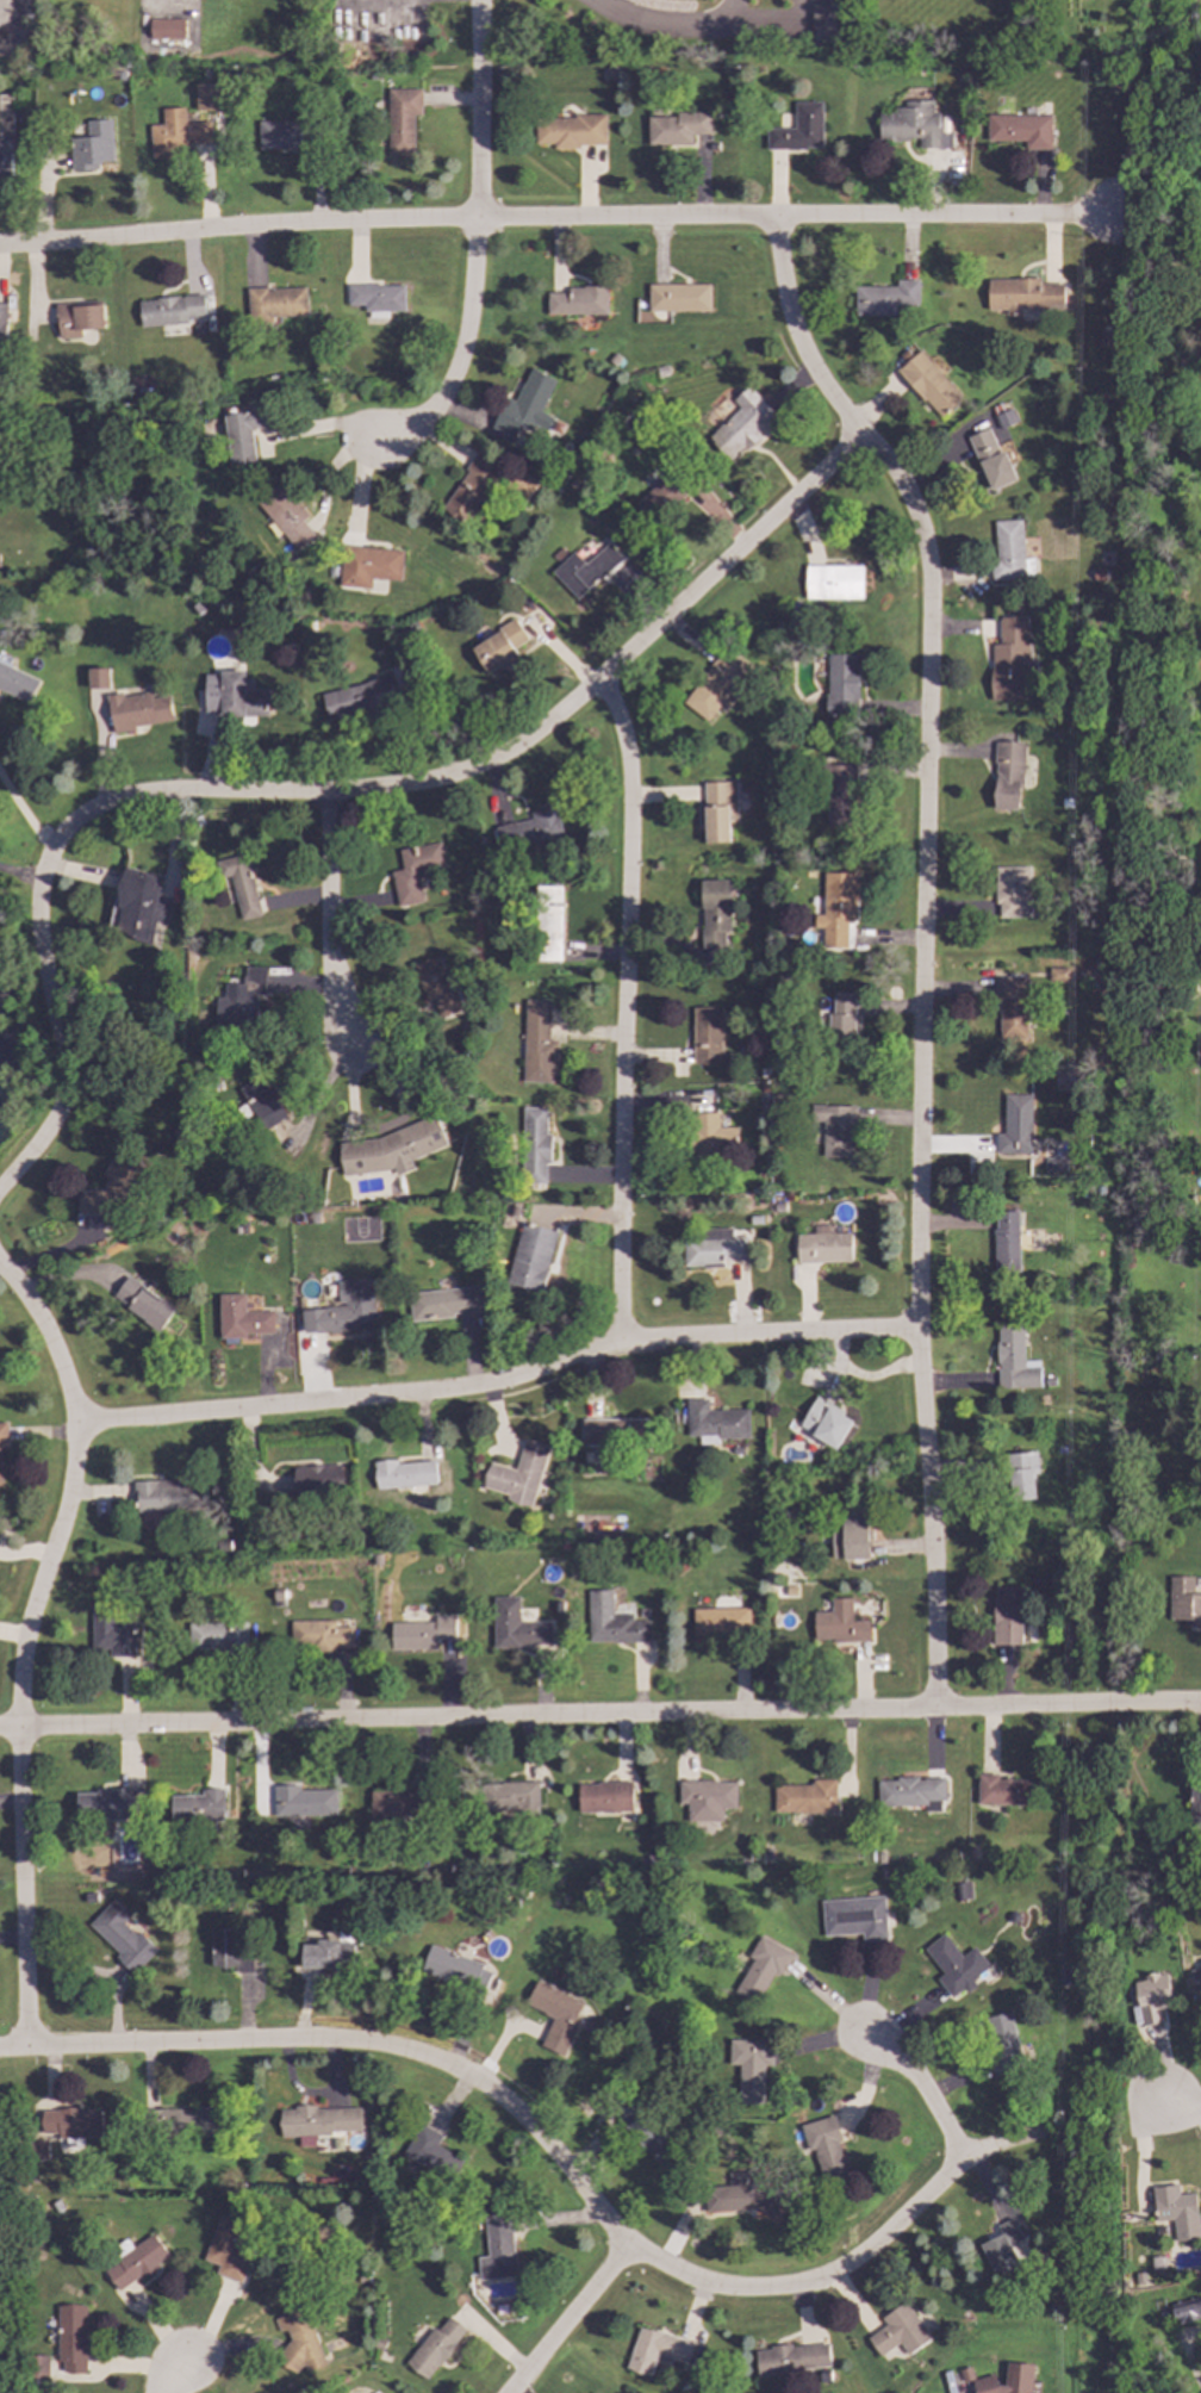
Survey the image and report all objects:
building: (6, 12)
building: (823, 25)
road: (670, 27)
road: (774, 27)
building: (166, 29)
building: (207, 97)
road: (478, 110)
building: (402, 119)
building: (913, 125)
building: (676, 129)
building: (798, 130)
building: (1020, 130)
building: (571, 131)
building: (176, 135)
building: (284, 135)
building: (5, 136)
building: (92, 147)
road: (560, 219)
building: (1022, 296)
building: (678, 298)
building: (884, 298)
building: (377, 299)
building: (578, 302)
building: (275, 303)
building: (169, 311)
building: (77, 319)
building: (2, 325)
road: (459, 354)
building: (928, 385)
building: (528, 409)
building: (1006, 418)
building: (742, 424)
building: (243, 433)
building: (990, 458)
building: (471, 489)
building: (659, 497)
building: (286, 516)
building: (1009, 552)
building: (368, 566)
building: (584, 571)
building: (833, 583)
building: (498, 647)
building: (1009, 660)
building: (97, 678)
building: (15, 683)
building: (715, 685)
building: (841, 685)
building: (234, 696)
building: (359, 698)
building: (137, 710)
building: (1007, 776)
road: (329, 793)
building: (838, 795)
building: (717, 810)
road: (21, 815)
building: (530, 829)
building: (413, 871)
road: (19, 878)
building: (239, 884)
building: (1013, 891)
building: (138, 906)
building: (835, 908)
building: (714, 913)
road: (326, 919)
building: (547, 924)
road: (920, 943)
building: (1058, 975)
building: (436, 984)
building: (239, 1000)
road: (623, 1008)
building: (1012, 1008)
building: (705, 1036)
building: (536, 1043)
building: (262, 1102)
building: (1015, 1126)
building: (834, 1130)
building: (709, 1136)
building: (533, 1146)
building: (391, 1149)
building: (977, 1163)
building: (1053, 1166)
building: (112, 1191)
building: (1006, 1243)
building: (712, 1248)
building: (822, 1248)
building: (530, 1257)
building: (446, 1303)
building: (142, 1304)
building: (343, 1310)
building: (241, 1318)
building: (1013, 1360)
road: (498, 1382)
building: (714, 1423)
building: (824, 1423)
building: (615, 1432)
building: (2, 1434)
building: (516, 1474)
building: (404, 1475)
building: (1020, 1475)
building: (317, 1480)
building: (0, 1481)
building: (169, 1496)
building: (850, 1535)
building: (1183, 1600)
building: (1006, 1616)
building: (611, 1622)
building: (720, 1622)
building: (838, 1624)
building: (515, 1627)
building: (110, 1633)
building: (419, 1634)
building: (318, 1635)
building: (216, 1637)
road: (23, 1645)
road: (1153, 1707)
road: (553, 1716)
building: (1194, 1789)
building: (1001, 1790)
building: (910, 1792)
building: (509, 1796)
building: (804, 1797)
building: (707, 1798)
building: (304, 1802)
building: (393, 1802)
building: (106, 1805)
building: (197, 1807)
building: (963, 1891)
building: (853, 1917)
building: (120, 1937)
building: (228, 1951)
building: (328, 1956)
building: (1200, 1963)
building: (954, 1965)
building: (760, 1969)
building: (455, 1970)
building: (1152, 1997)
building: (554, 2015)
building: (1002, 2041)
road: (921, 2089)
road: (1182, 2105)
building: (188, 2121)
building: (70, 2122)
building: (317, 2122)
building: (649, 2137)
building: (827, 2150)
building: (429, 2152)
road: (556, 2159)
building: (741, 2195)
building: (1177, 2211)
building: (498, 2248)
building: (228, 2249)
building: (1001, 2249)
building: (135, 2263)
building: (1187, 2311)
road: (567, 2318)
building: (898, 2331)
building: (71, 2338)
building: (298, 2343)
building: (434, 2348)
building: (655, 2350)
building: (791, 2360)
building: (41, 2368)
road: (170, 2372)
building: (1006, 2380)
building: (593, 2392)

